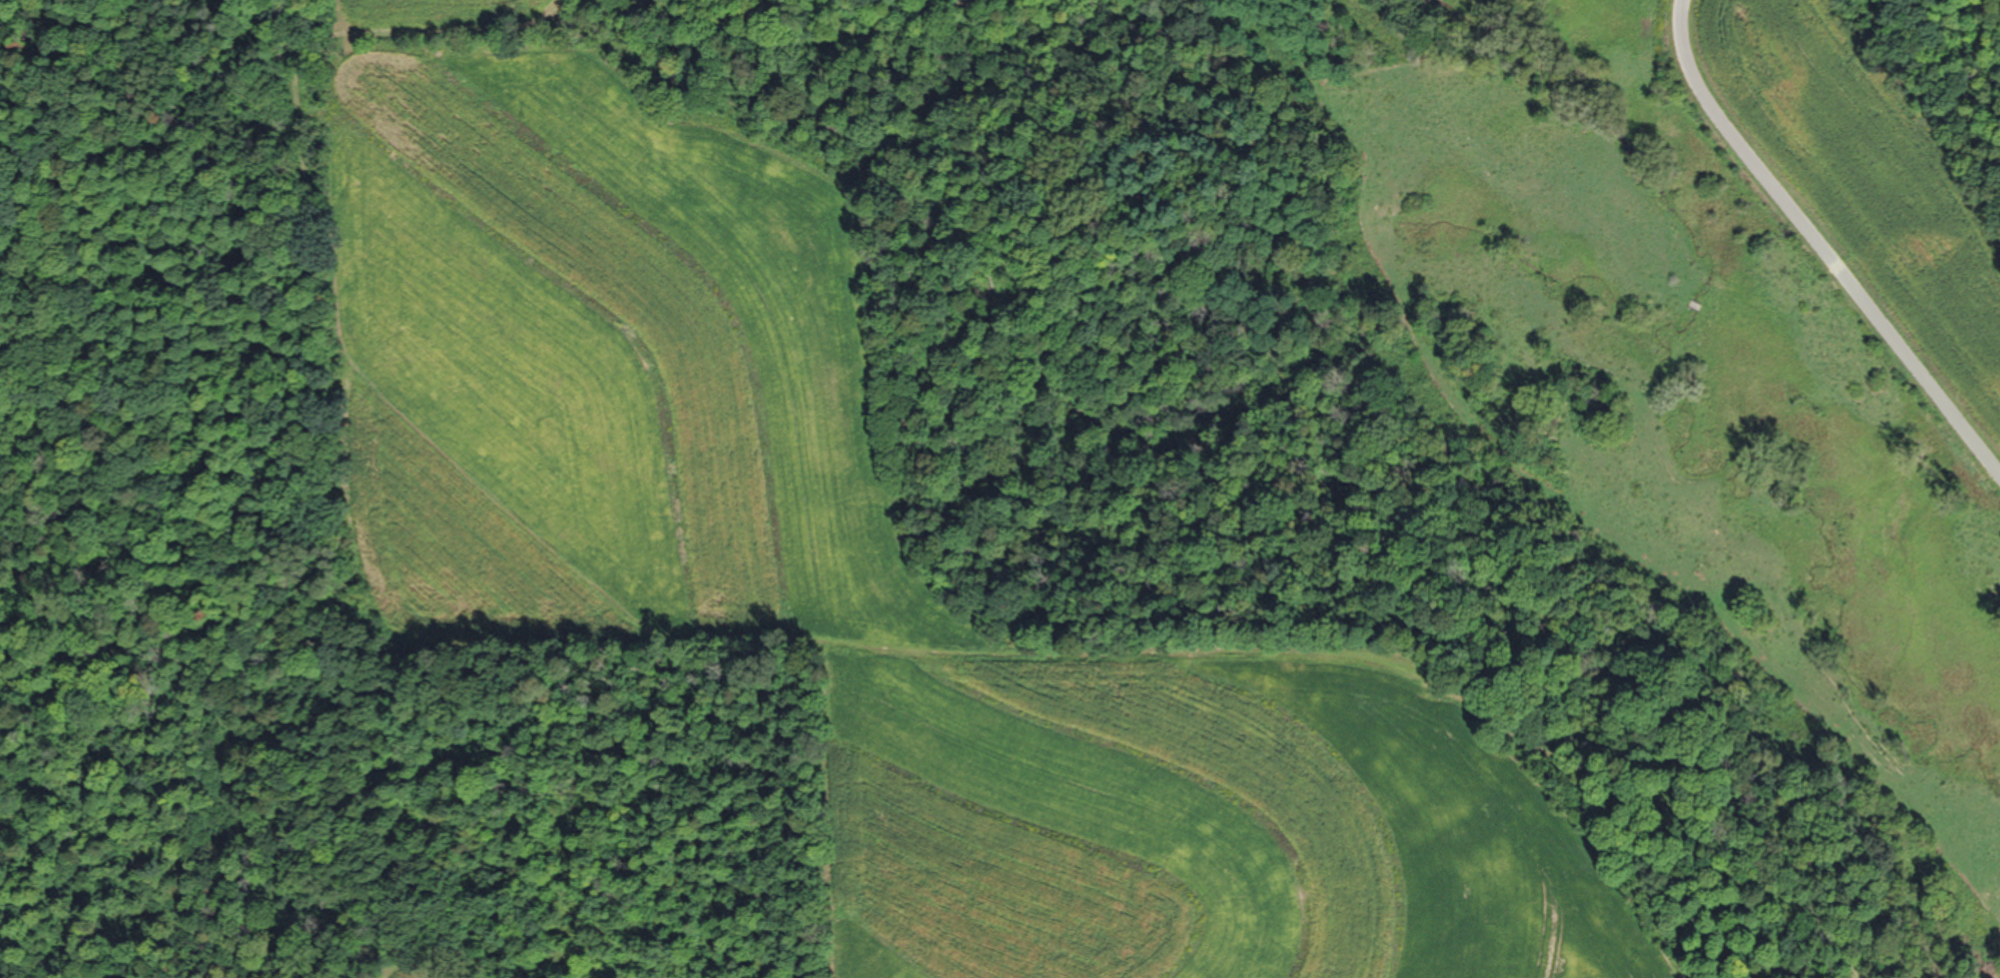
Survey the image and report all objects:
road: (1823, 242)

